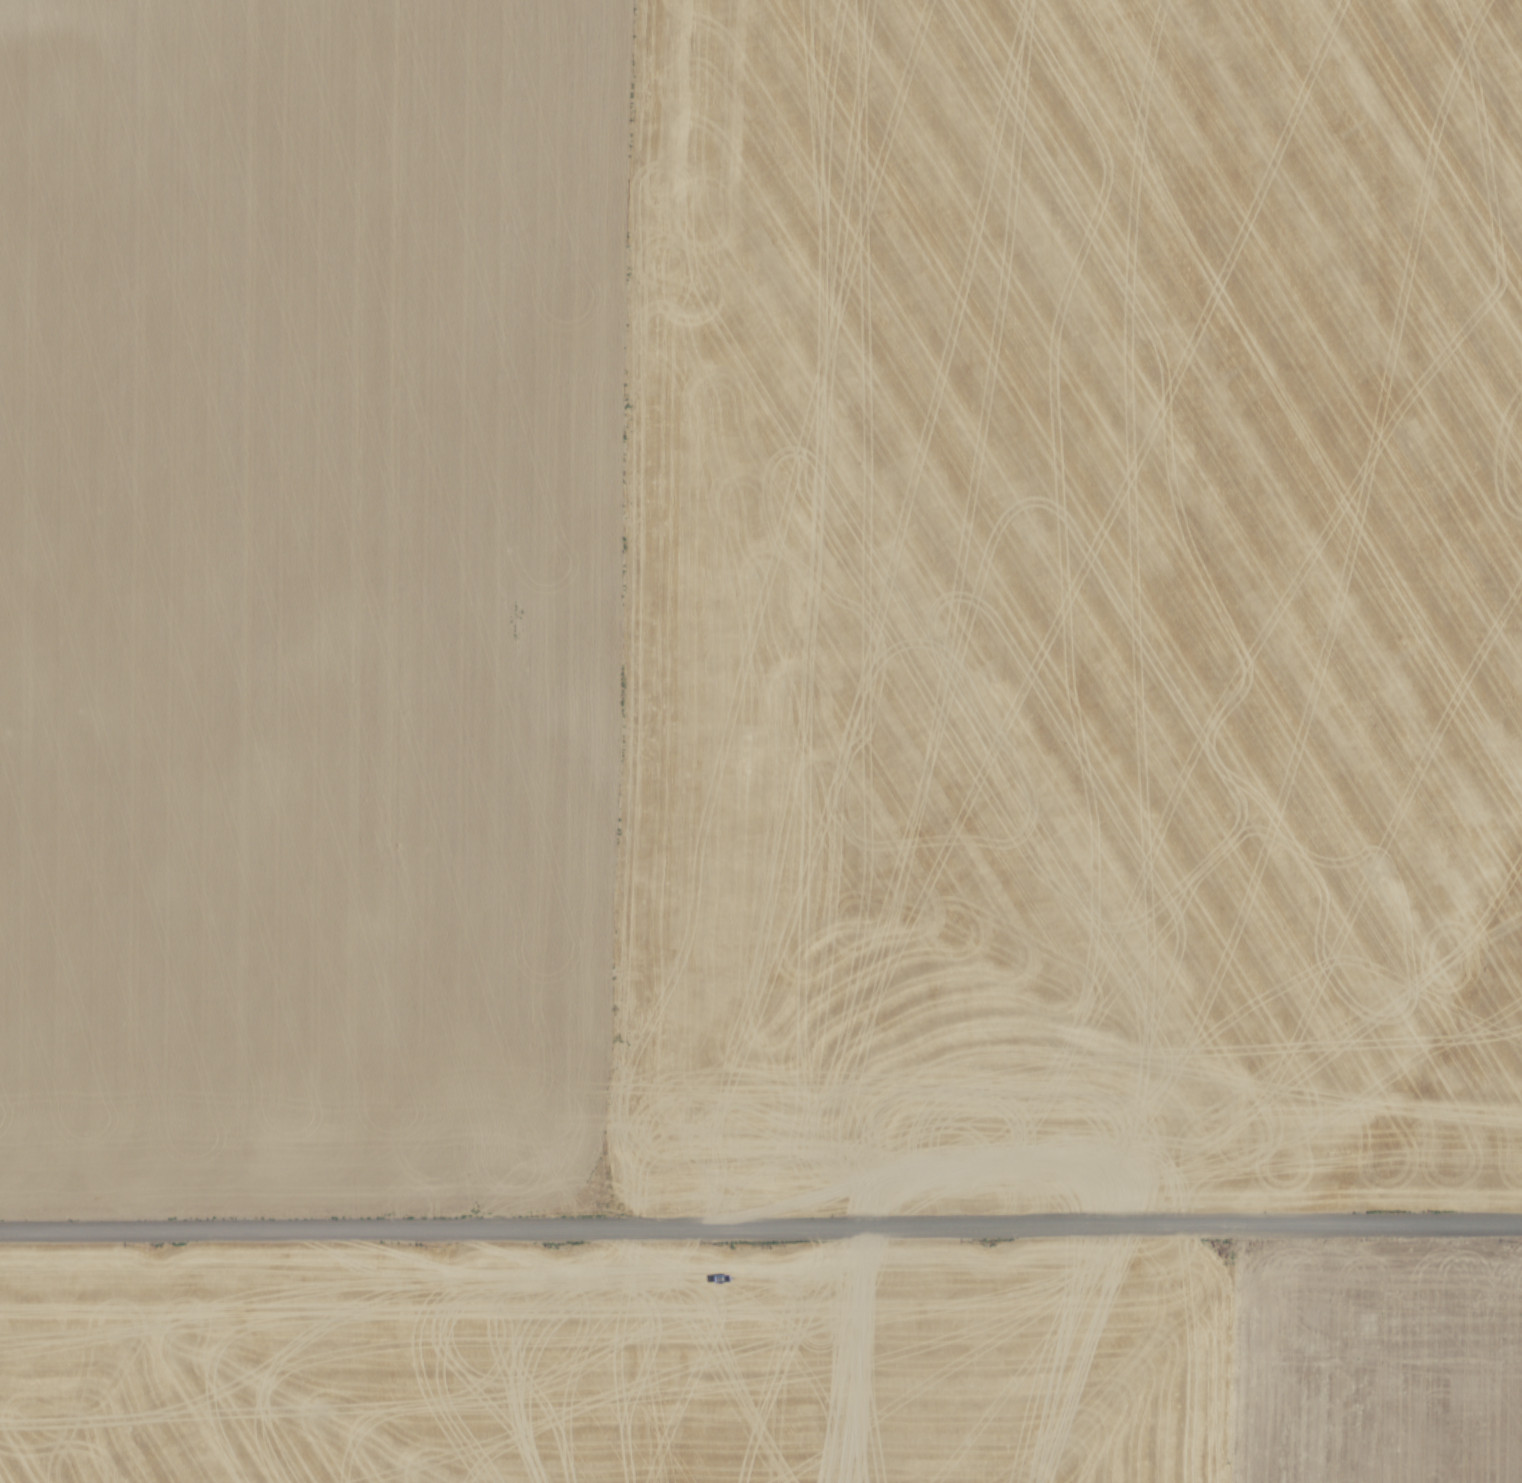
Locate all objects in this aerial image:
road: (761, 1232)

